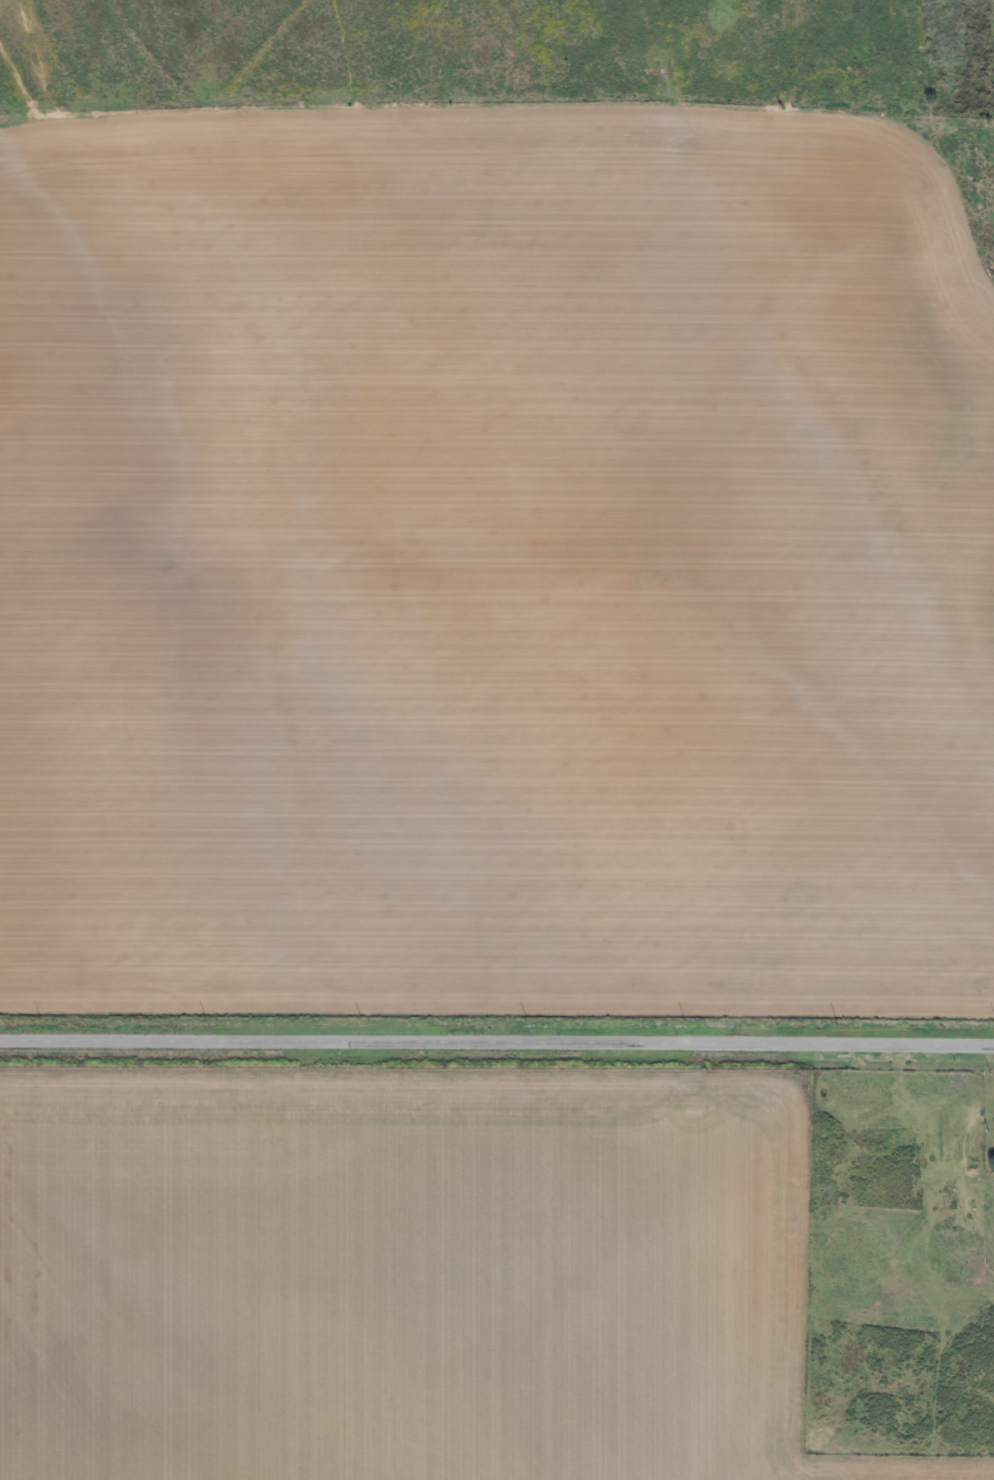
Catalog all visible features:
road: (497, 1044)

